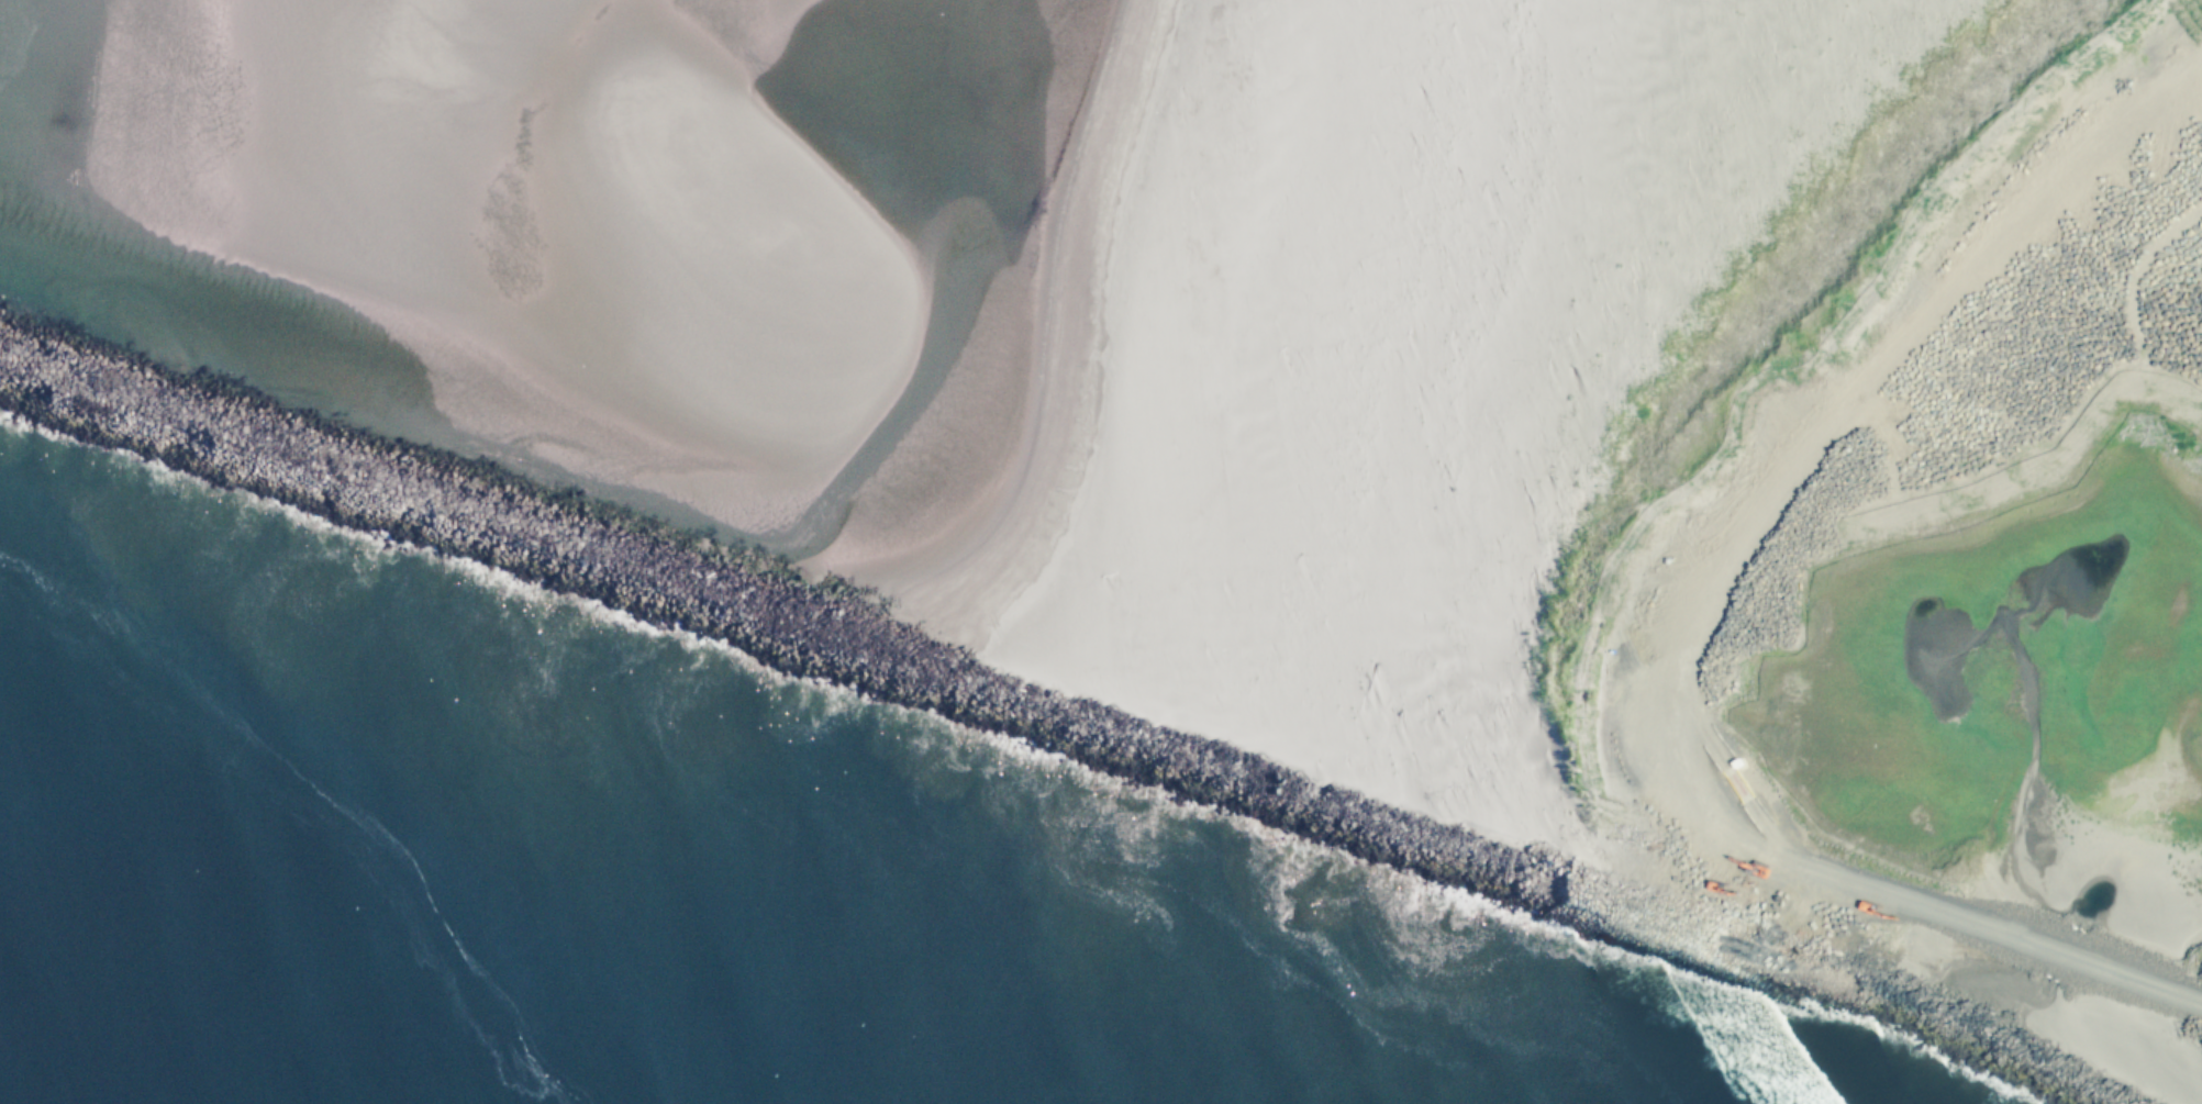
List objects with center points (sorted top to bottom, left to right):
road: (2199, 1000)

